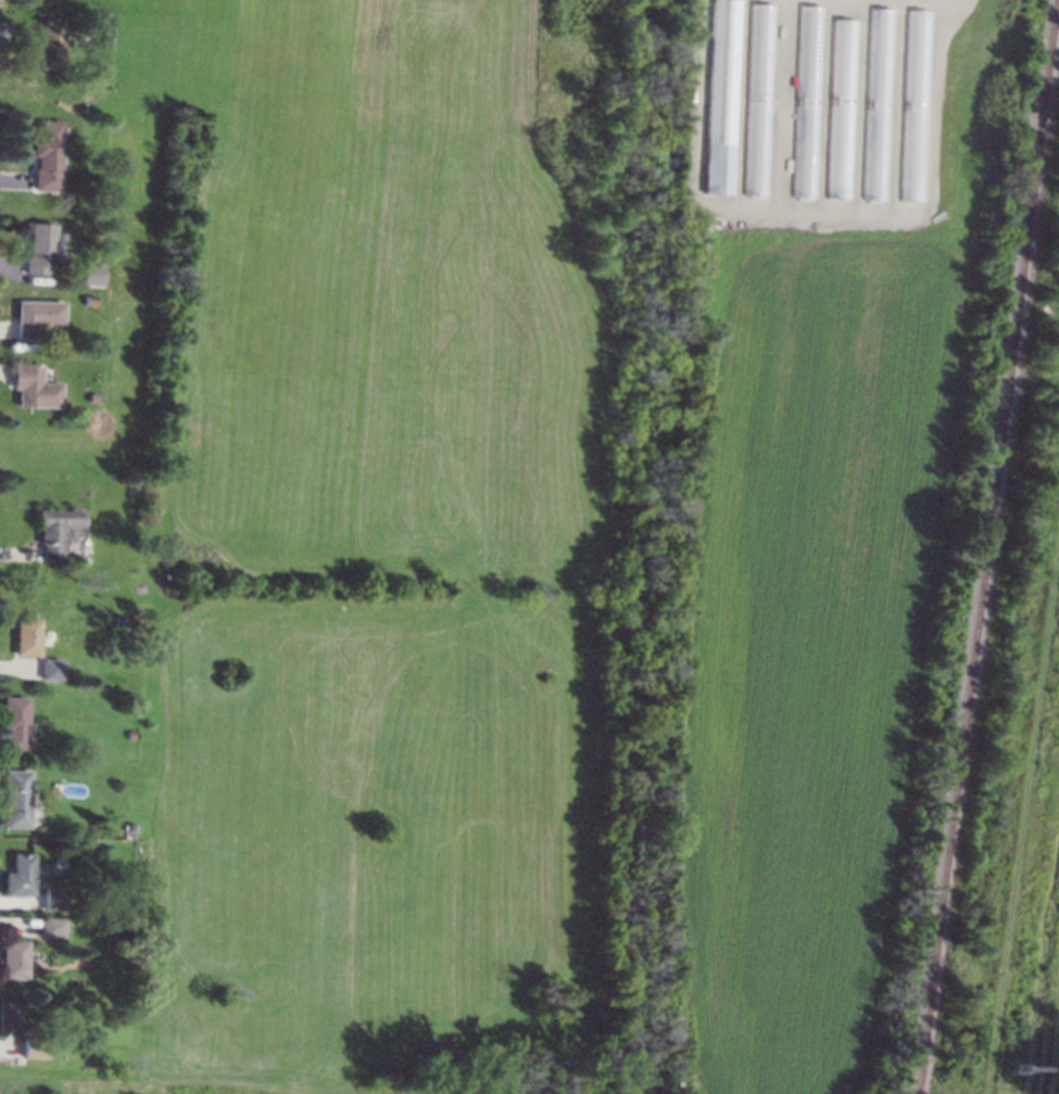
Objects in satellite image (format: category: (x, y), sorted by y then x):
building: (93, 33)
building: (50, 43)
building: (720, 96)
building: (757, 99)
building: (806, 102)
building: (878, 103)
building: (916, 104)
building: (842, 107)
building: (46, 154)
building: (39, 247)
building: (96, 273)
building: (89, 300)
building: (36, 317)
building: (34, 386)
building: (91, 396)
building: (134, 486)
building: (56, 532)
railway: (989, 550)
crop: (513, 565)
building: (119, 620)
building: (27, 636)
building: (50, 667)
building: (14, 721)
building: (131, 735)
building: (16, 798)
building: (131, 827)
building: (18, 875)
building: (54, 898)
building: (51, 926)
building: (13, 958)
building: (11, 1015)
park: (1052, 1042)
building: (33, 1047)
park: (1049, 1092)

